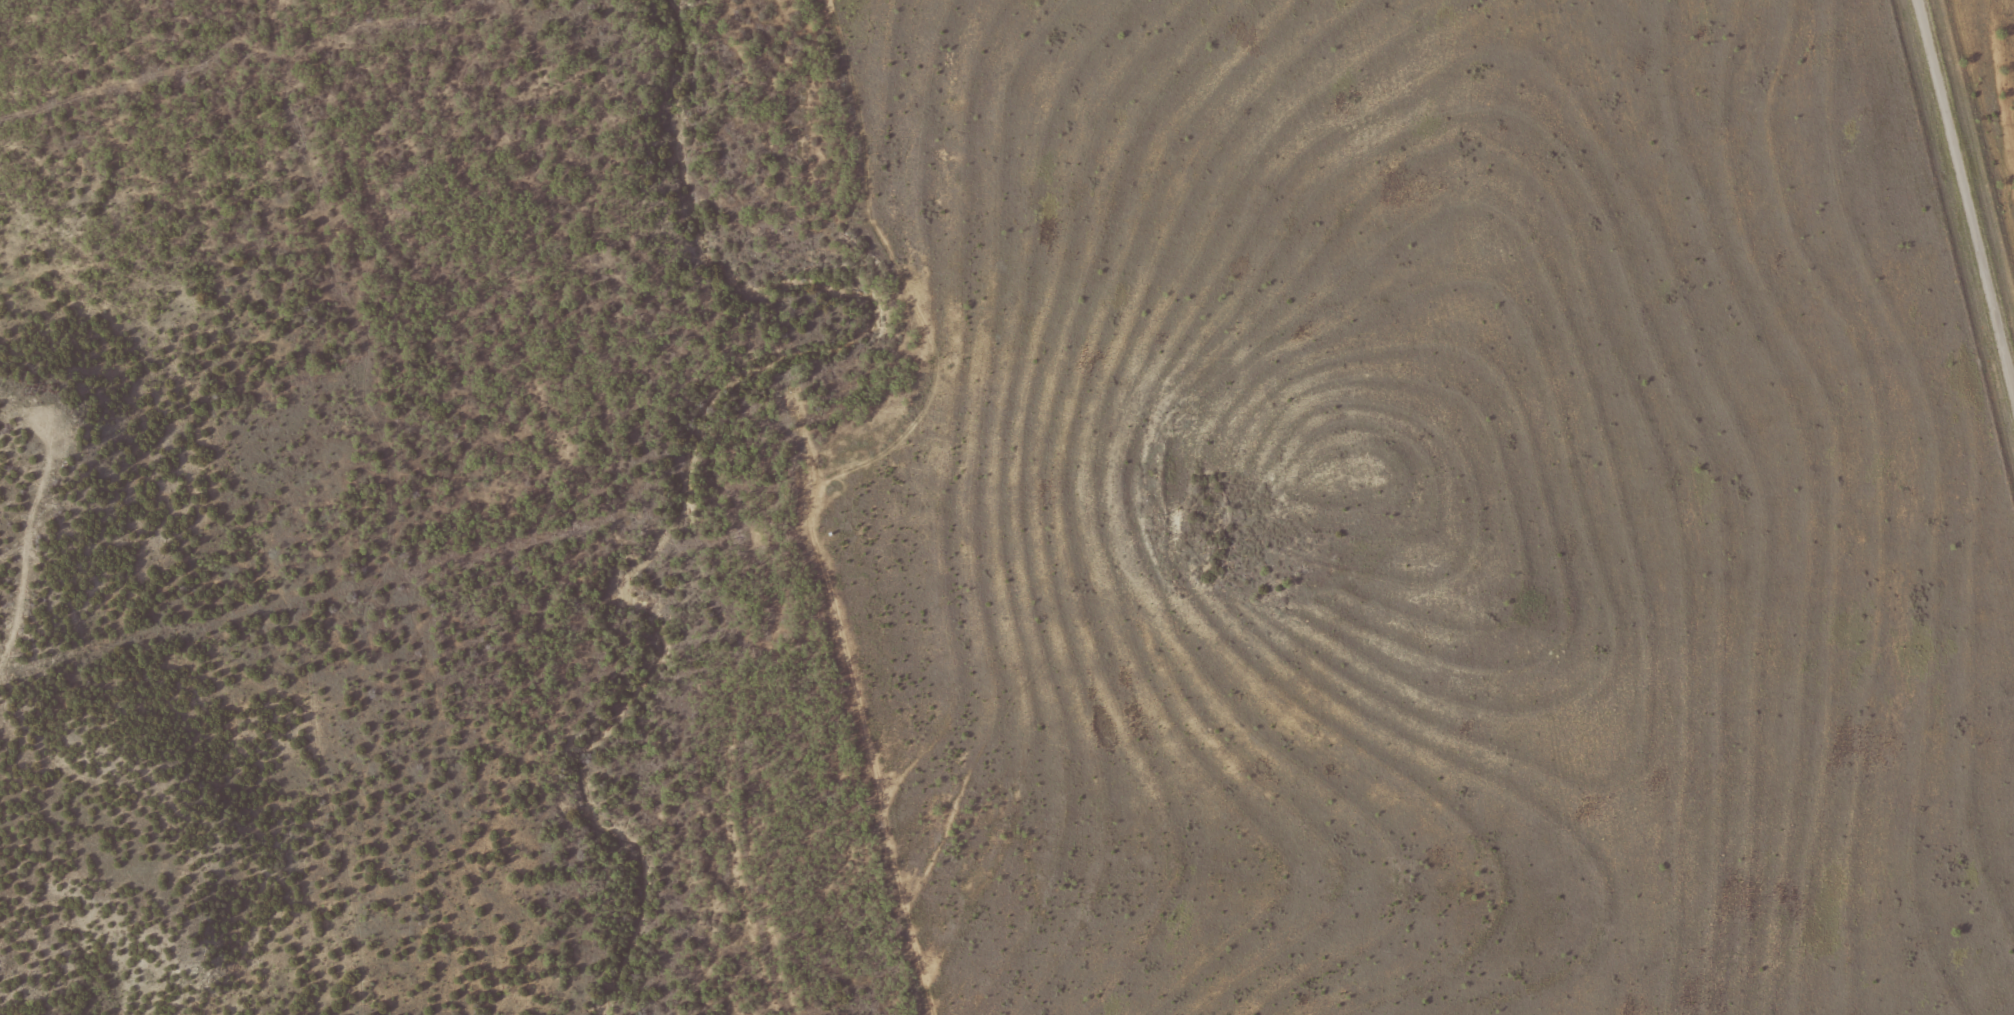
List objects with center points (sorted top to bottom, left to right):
road: (1966, 198)

